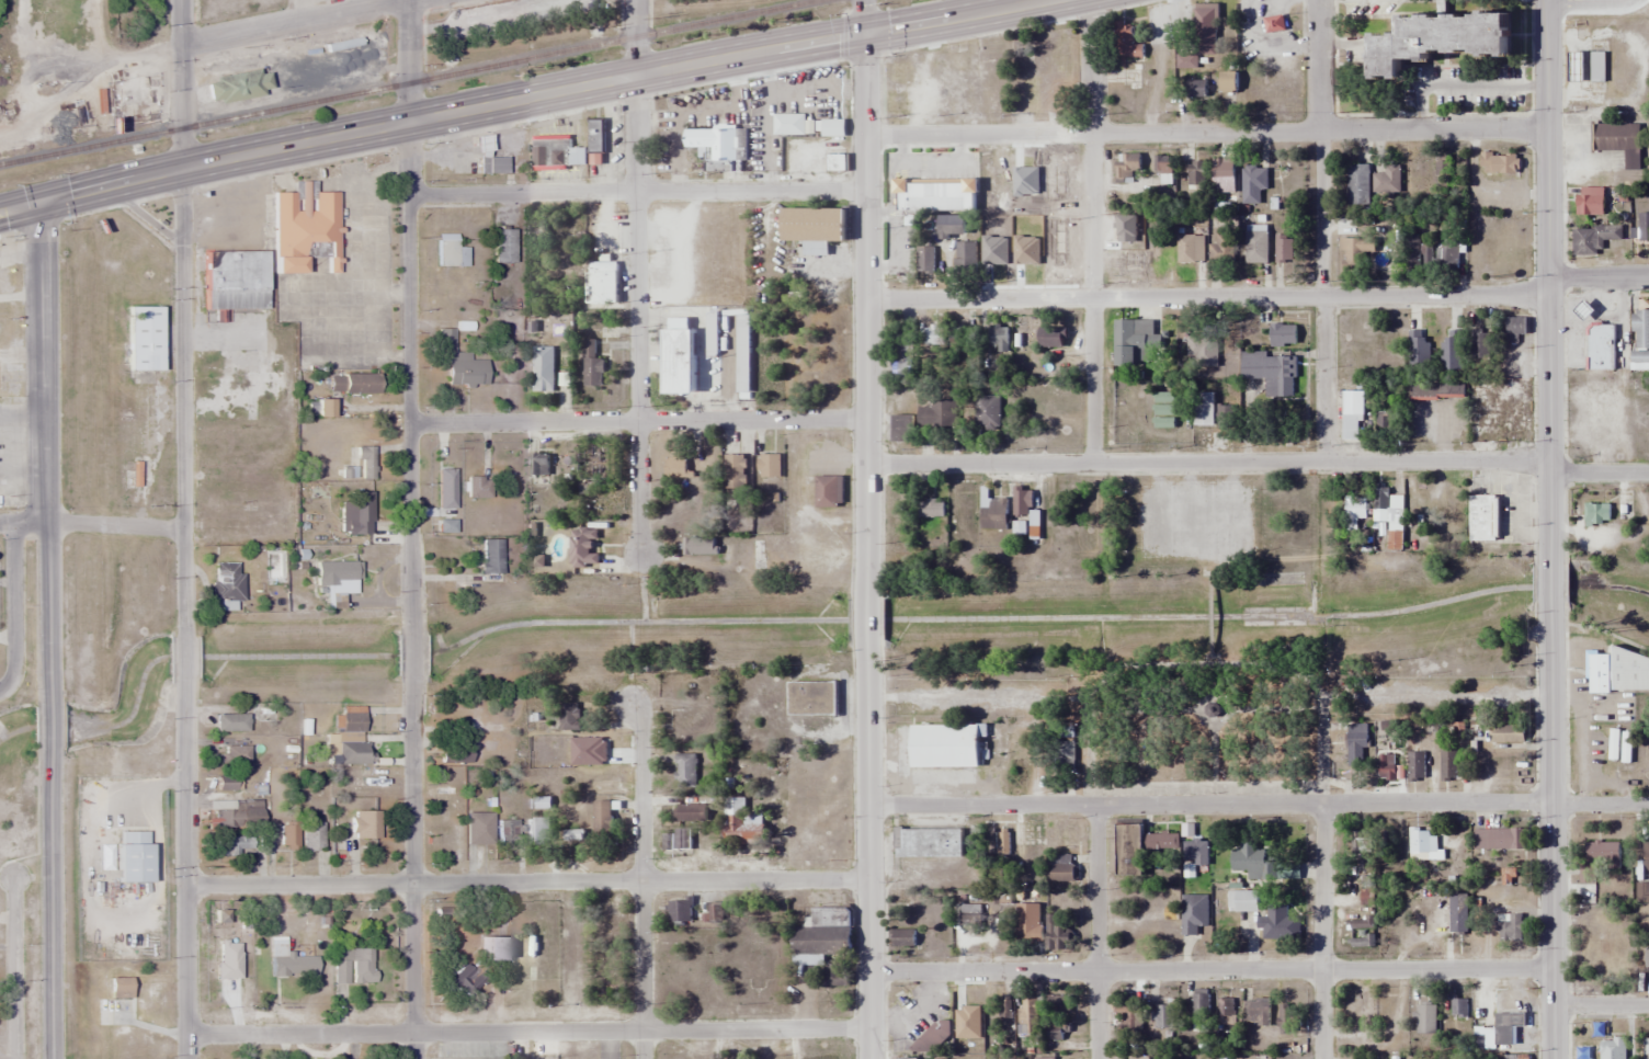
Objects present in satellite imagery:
road: (865, 16)
road: (296, 22)
traffic signals: (865, 33)
building: (1201, 35)
road: (637, 36)
building: (1440, 39)
building: (1126, 45)
road: (409, 60)
building: (1576, 66)
building: (1596, 67)
building: (892, 69)
building: (1042, 76)
railway: (409, 80)
building: (1228, 81)
road: (184, 82)
building: (237, 86)
building: (1195, 88)
road: (565, 89)
building: (891, 104)
building: (805, 126)
road: (1206, 133)
building: (595, 135)
building: (717, 141)
building: (1617, 141)
building: (555, 153)
building: (487, 158)
building: (835, 162)
building: (1499, 163)
building: (1163, 164)
traffic signals: (183, 166)
building: (1126, 167)
building: (1443, 171)
building: (930, 175)
building: (1195, 176)
building: (1222, 176)
building: (996, 179)
building: (1387, 181)
building: (1253, 184)
building: (1357, 184)
road: (638, 192)
building: (937, 195)
building: (1055, 198)
road: (43, 200)
traffic signals: (46, 200)
building: (1591, 201)
building: (812, 225)
building: (952, 226)
building: (1644, 227)
building: (1126, 229)
road: (1322, 230)
building: (305, 231)
road: (1092, 232)
building: (1592, 239)
building: (1255, 244)
building: (502, 246)
building: (1190, 249)
building: (1284, 249)
building: (1221, 250)
building: (1026, 252)
building: (1354, 252)
building: (1410, 252)
building: (450, 253)
building: (965, 257)
building: (1446, 257)
building: (1122, 262)
road: (1546, 275)
road: (1597, 277)
building: (232, 280)
building: (601, 283)
road: (866, 294)
road: (1206, 298)
building: (1583, 311)
road: (637, 314)
building: (1514, 328)
building: (1640, 329)
building: (712, 334)
building: (933, 335)
building: (1283, 335)
building: (958, 337)
building: (143, 338)
building: (1050, 338)
building: (999, 339)
building: (1133, 341)
building: (1479, 344)
building: (1202, 350)
building: (1449, 351)
building: (1599, 354)
building: (901, 355)
building: (681, 357)
building: (742, 358)
building: (1640, 362)
building: (460, 363)
building: (592, 366)
building: (542, 367)
building: (1269, 368)
road: (411, 377)
building: (353, 384)
building: (1437, 391)
road: (184, 399)
building: (1203, 410)
building: (986, 411)
building: (1165, 411)
building: (935, 415)
building: (1505, 415)
building: (1226, 418)
road: (639, 420)
building: (1384, 420)
building: (900, 429)
road: (47, 445)
building: (366, 463)
road: (1207, 464)
building: (539, 465)
building: (595, 465)
building: (769, 466)
building: (675, 467)
building: (735, 472)
road: (1599, 474)
building: (478, 487)
building: (826, 491)
building: (1452, 502)
building: (929, 508)
building: (1355, 510)
building: (1026, 511)
building: (355, 512)
building: (1596, 512)
building: (992, 515)
building: (1388, 516)
building: (1483, 519)
road: (92, 525)
building: (1017, 528)
railway: (106, 529)
building: (700, 546)
building: (582, 548)
building: (490, 556)
building: (337, 580)
building: (227, 581)
road: (1549, 584)
road: (15, 608)
road: (868, 611)
road: (1215, 616)
park: (1205, 629)
road: (186, 661)
road: (413, 661)
building: (1630, 673)
building: (1599, 674)
road: (1460, 692)
building: (811, 698)
building: (266, 714)
building: (568, 717)
building: (685, 720)
building: (230, 722)
road: (49, 728)
building: (1508, 735)
building: (1356, 745)
building: (945, 747)
building: (455, 751)
building: (353, 753)
building: (234, 754)
building: (1062, 755)
building: (1448, 766)
building: (1415, 767)
building: (1387, 770)
building: (685, 772)
building: (227, 783)
building: (366, 784)
building: (448, 799)
road: (1259, 802)
building: (541, 804)
building: (691, 813)
building: (240, 816)
building: (602, 819)
building: (742, 823)
building: (365, 824)
building: (479, 828)
building: (508, 832)
building: (537, 832)
building: (312, 835)
building: (571, 835)
building: (287, 838)
road: (1550, 838)
building: (1499, 839)
building: (678, 841)
building: (1361, 842)
building: (240, 845)
building: (1419, 845)
building: (1158, 850)
building: (1194, 853)
building: (1646, 857)
building: (1599, 858)
building: (1251, 859)
road: (869, 863)
building: (1059, 866)
road: (413, 873)
road: (186, 874)
road: (528, 882)
road: (640, 886)
building: (1366, 897)
building: (1243, 900)
road: (50, 912)
building: (679, 912)
building: (1457, 912)
building: (1194, 913)
building: (967, 914)
building: (828, 916)
building: (1027, 922)
building: (1361, 923)
building: (1280, 926)
building: (1512, 929)
road: (1096, 931)
road: (1321, 931)
building: (1058, 932)
building: (902, 937)
building: (1361, 941)
building: (492, 946)
building: (807, 947)
building: (281, 957)
building: (1647, 959)
building: (353, 964)
road: (13, 967)
road: (1210, 970)
building: (1201, 1002)
road: (1600, 1005)
building: (1458, 1007)
building: (1227, 1011)
building: (967, 1012)
building: (1258, 1012)
building: (1028, 1014)
building: (1127, 1015)
building: (1162, 1015)
building: (1285, 1018)
building: (1425, 1020)
building: (1508, 1026)
road: (528, 1030)
building: (1482, 1039)
building: (1611, 1048)
building: (1646, 1048)
building: (1516, 1056)
road: (7, 1057)
building: (907, 1058)
building: (939, 1058)

